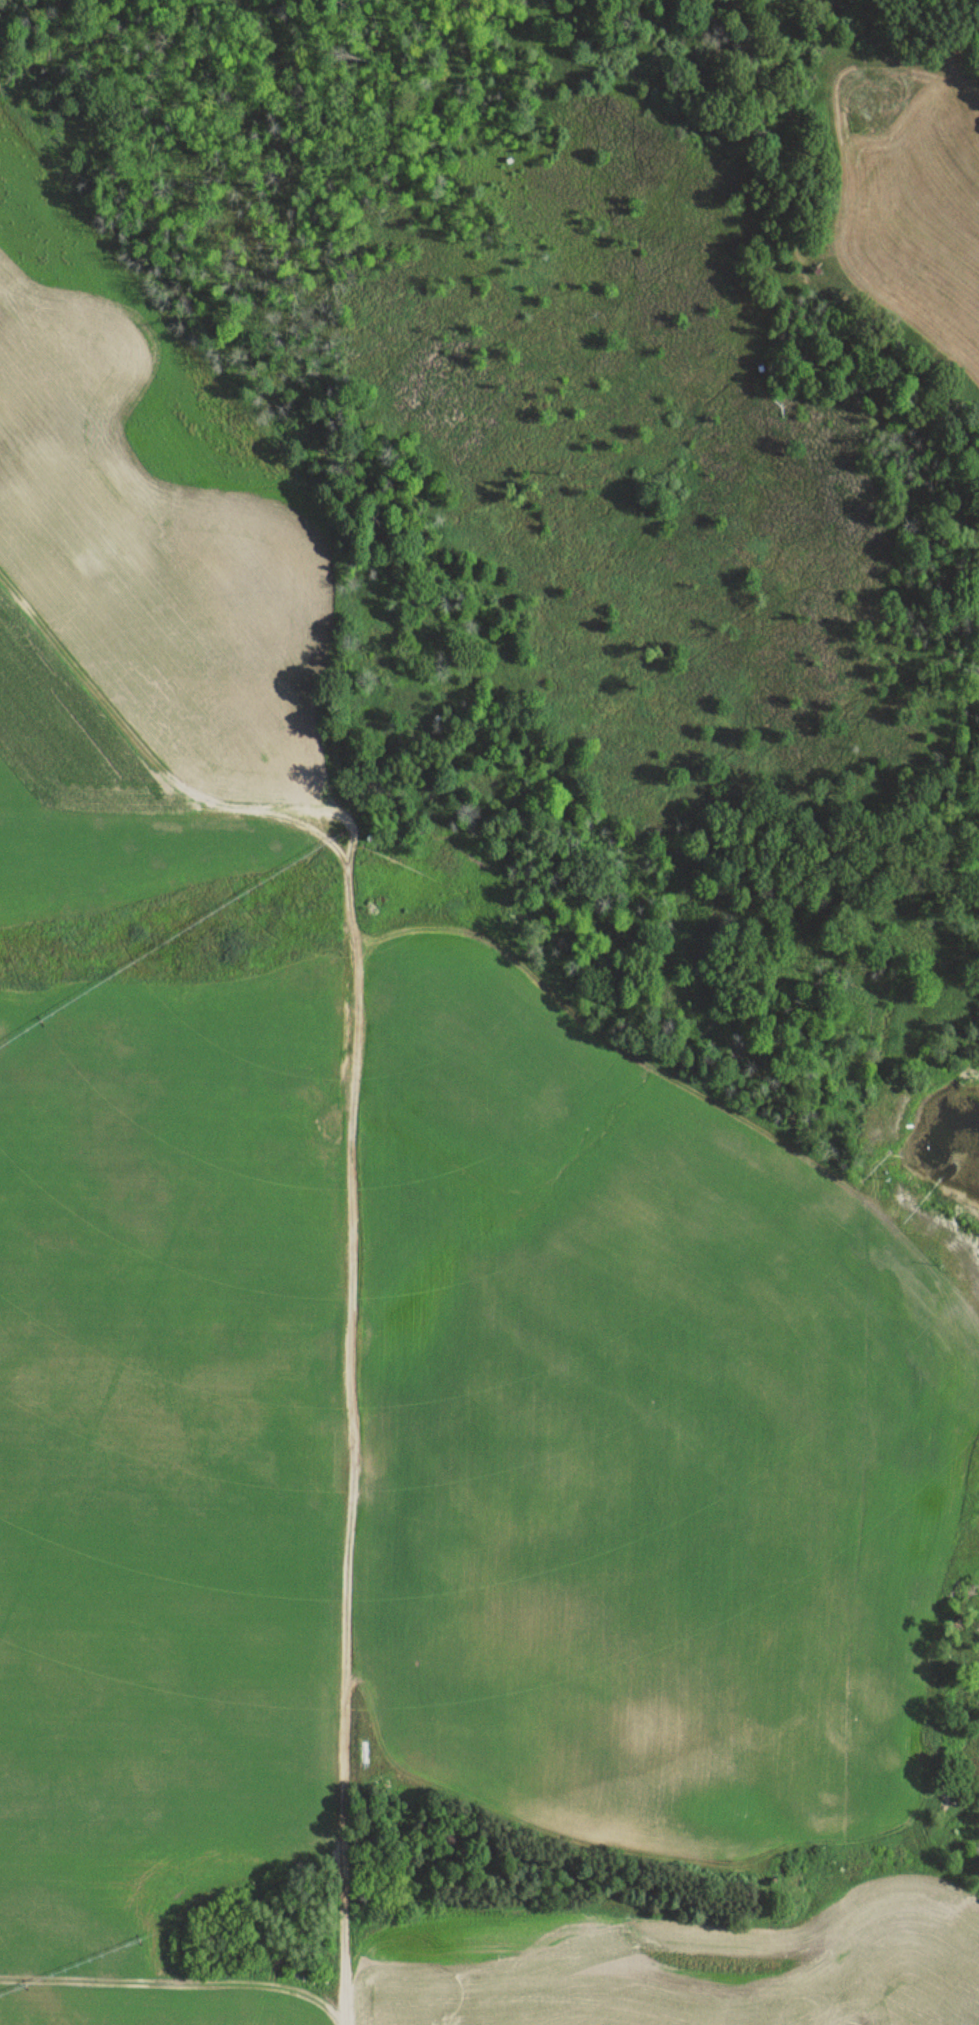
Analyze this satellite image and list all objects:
road: (578, 1011)
road: (345, 1187)

